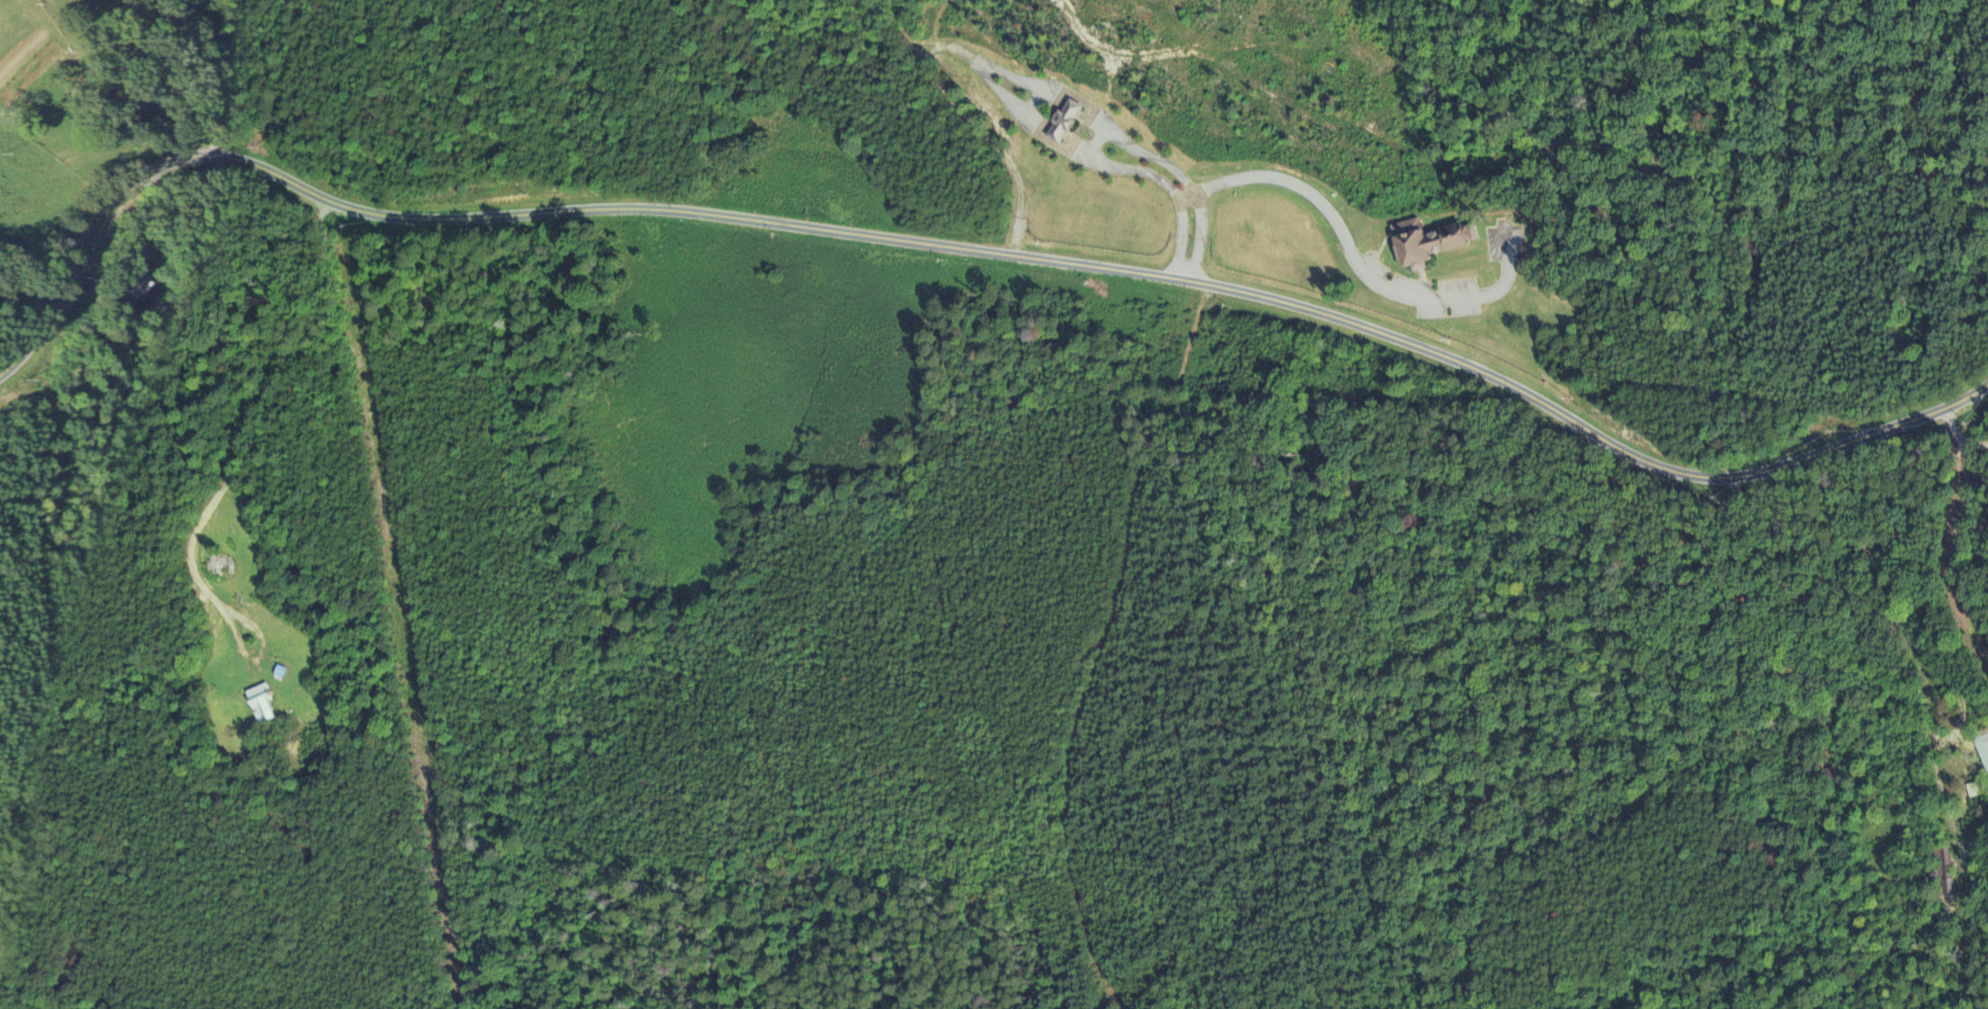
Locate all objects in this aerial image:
road: (985, 66)
road: (184, 76)
building: (1053, 93)
road: (1034, 102)
building: (1065, 122)
road: (978, 123)
road: (1097, 140)
building: (1428, 242)
road: (959, 249)
road: (1355, 258)
building: (132, 286)
road: (1955, 439)
road: (227, 476)
building: (262, 704)
building: (1984, 751)
building: (1945, 873)

